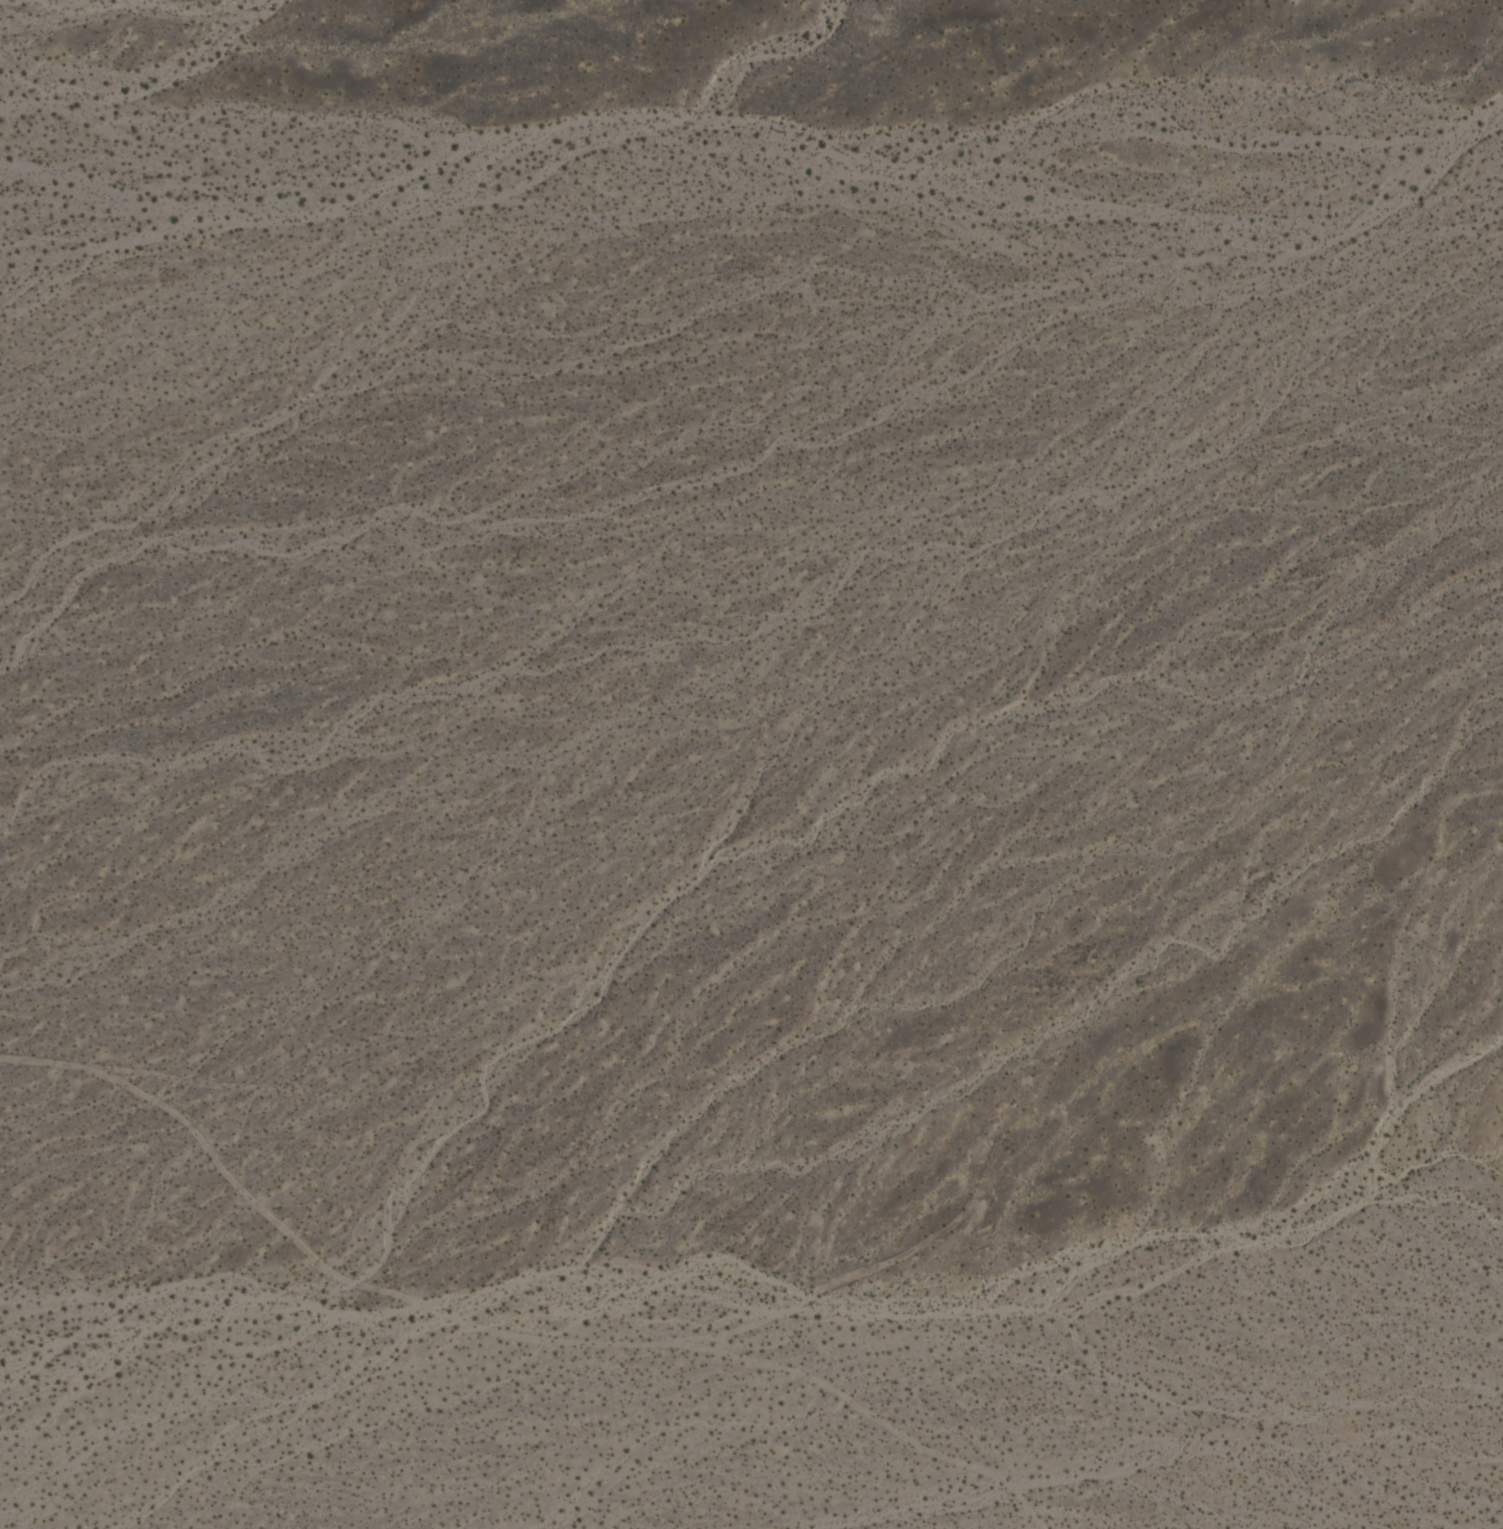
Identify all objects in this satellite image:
road: (864, 1272)
road: (504, 1333)

